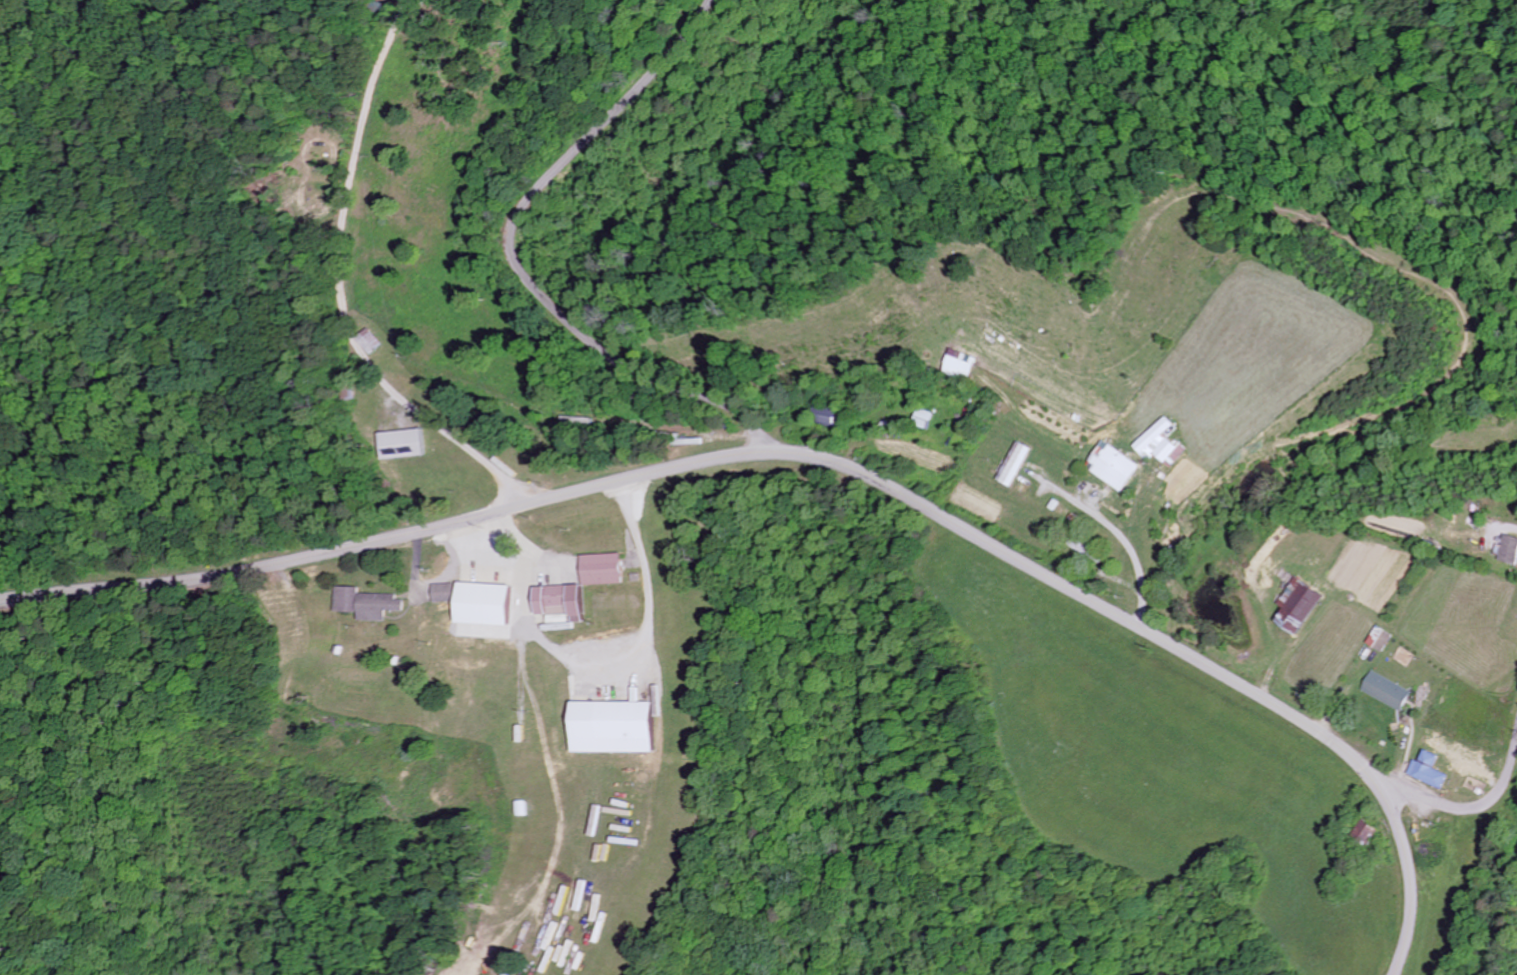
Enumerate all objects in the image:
road: (510, 260)
building: (962, 367)
road: (573, 393)
building: (923, 419)
building: (1151, 437)
building: (403, 444)
building: (1168, 453)
building: (1013, 465)
building: (1111, 468)
road: (1119, 535)
road: (387, 539)
building: (1508, 551)
building: (600, 570)
road: (1087, 600)
building: (560, 602)
building: (365, 605)
building: (480, 605)
building: (1297, 607)
building: (1378, 640)
building: (1385, 691)
building: (610, 728)
building: (1426, 771)
road: (1471, 807)
road: (1406, 882)

